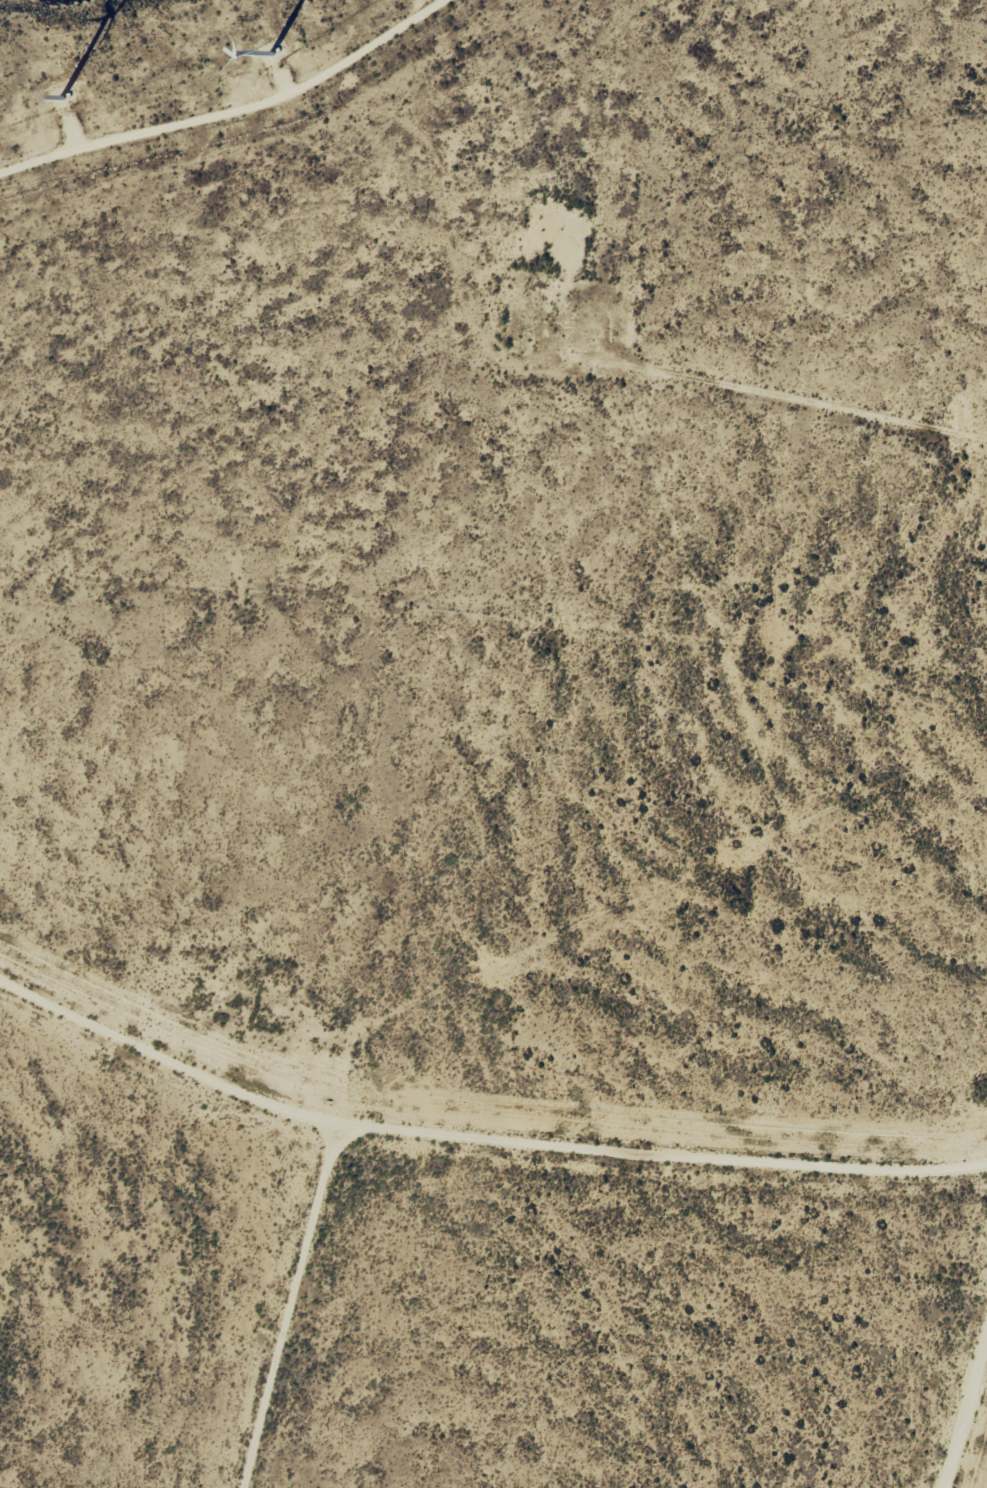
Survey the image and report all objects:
wind turbine: (261, 58)
wind turbine: (64, 108)
road: (485, 1119)
road: (965, 1407)

